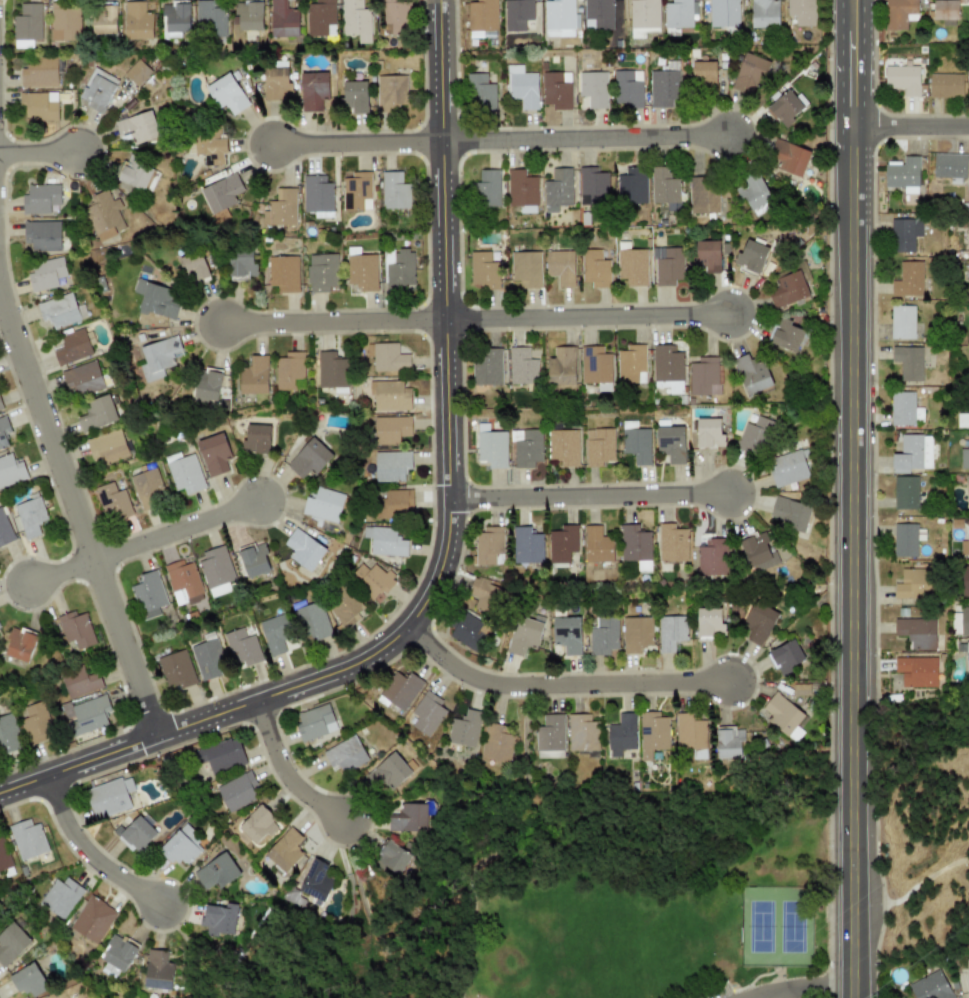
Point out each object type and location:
building: (802, 11)
building: (947, 11)
building: (723, 13)
building: (764, 13)
building: (899, 13)
building: (517, 14)
building: (598, 14)
building: (250, 15)
building: (482, 15)
building: (678, 16)
building: (644, 17)
building: (105, 18)
building: (320, 18)
building: (560, 18)
building: (210, 19)
building: (283, 19)
building: (176, 20)
building: (356, 20)
building: (138, 21)
building: (65, 23)
building: (27, 25)
road: (841, 64)
road: (863, 64)
building: (40, 72)
building: (137, 72)
building: (750, 72)
building: (704, 74)
building: (902, 79)
building: (968, 81)
building: (276, 84)
building: (522, 86)
building: (945, 86)
building: (663, 87)
building: (593, 88)
building: (628, 88)
building: (98, 89)
building: (313, 90)
building: (556, 90)
building: (480, 92)
building: (390, 93)
building: (227, 94)
building: (355, 96)
building: (40, 105)
building: (785, 108)
building: (138, 127)
road: (911, 128)
road: (589, 145)
building: (211, 148)
road: (360, 149)
building: (790, 159)
road: (43, 160)
building: (950, 167)
building: (136, 173)
building: (903, 174)
building: (593, 186)
building: (632, 186)
building: (664, 186)
building: (488, 187)
building: (558, 189)
building: (522, 190)
building: (357, 191)
building: (394, 191)
building: (222, 192)
building: (754, 192)
building: (704, 194)
building: (318, 196)
building: (41, 199)
building: (281, 208)
building: (104, 215)
building: (904, 233)
building: (44, 235)
building: (968, 242)
building: (707, 255)
building: (751, 256)
building: (242, 264)
building: (668, 265)
building: (632, 266)
building: (560, 267)
building: (526, 268)
building: (595, 268)
building: (361, 269)
building: (399, 270)
building: (197, 271)
building: (483, 271)
building: (321, 272)
building: (284, 273)
building: (47, 274)
building: (968, 278)
building: (908, 279)
building: (789, 289)
building: (156, 299)
building: (59, 310)
building: (902, 322)
road: (593, 323)
road: (336, 325)
building: (786, 336)
building: (968, 337)
building: (74, 346)
building: (159, 357)
building: (389, 358)
building: (908, 362)
building: (631, 364)
building: (595, 365)
building: (522, 366)
building: (487, 367)
building: (667, 368)
building: (562, 369)
building: (331, 370)
building: (752, 374)
building: (255, 375)
building: (704, 376)
building: (83, 379)
building: (208, 384)
building: (390, 395)
building: (0, 407)
building: (904, 408)
building: (97, 413)
building: (963, 420)
building: (390, 429)
building: (3, 431)
building: (709, 432)
building: (755, 435)
building: (256, 439)
building: (636, 442)
building: (490, 446)
building: (599, 446)
building: (107, 447)
building: (564, 447)
building: (528, 449)
building: (912, 453)
building: (214, 454)
building: (309, 458)
building: (964, 458)
building: (391, 465)
building: (787, 468)
building: (11, 469)
building: (184, 472)
building: (147, 486)
road: (74, 491)
building: (905, 492)
building: (112, 501)
building: (324, 504)
building: (396, 504)
road: (593, 505)
building: (790, 515)
building: (30, 516)
road: (180, 527)
building: (4, 530)
road: (446, 539)
building: (906, 539)
building: (385, 541)
building: (672, 542)
building: (562, 543)
building: (965, 543)
building: (489, 546)
building: (526, 546)
building: (597, 546)
building: (635, 546)
building: (304, 550)
building: (757, 550)
building: (712, 558)
building: (253, 559)
road: (850, 561)
road: (64, 568)
building: (215, 570)
building: (372, 578)
building: (965, 581)
building: (182, 582)
building: (914, 583)
building: (148, 595)
building: (485, 595)
building: (345, 606)
building: (964, 620)
building: (709, 622)
building: (757, 623)
building: (75, 629)
building: (469, 631)
building: (275, 632)
building: (671, 632)
building: (916, 632)
building: (567, 634)
building: (636, 634)
building: (523, 635)
building: (603, 636)
building: (20, 644)
building: (241, 645)
building: (786, 656)
building: (967, 656)
building: (208, 658)
building: (175, 669)
building: (916, 671)
building: (80, 683)
road: (558, 684)
building: (399, 690)
building: (427, 713)
building: (85, 714)
building: (781, 715)
building: (35, 722)
building: (314, 722)
building: (464, 728)
building: (582, 732)
building: (653, 733)
building: (689, 733)
building: (8, 734)
building: (622, 734)
building: (550, 736)
building: (728, 742)
building: (496, 743)
building: (345, 754)
building: (222, 756)
building: (388, 772)
road: (290, 773)
building: (237, 791)
building: (109, 797)
building: (406, 817)
building: (257, 824)
park: (927, 832)
building: (136, 834)
building: (27, 839)
building: (181, 846)
building: (285, 849)
building: (4, 855)
road: (90, 856)
building: (392, 858)
building: (216, 871)
building: (316, 881)
road: (926, 886)
building: (60, 897)
park: (593, 903)
road: (373, 912)
road: (474, 917)
building: (93, 919)
building: (219, 919)
park: (777, 924)
building: (12, 943)
road: (196, 953)
building: (118, 955)
building: (158, 970)
road: (789, 978)
building: (28, 980)
building: (968, 983)
building: (930, 986)
road: (819, 987)
road: (738, 988)
road: (770, 994)
road: (788, 994)

